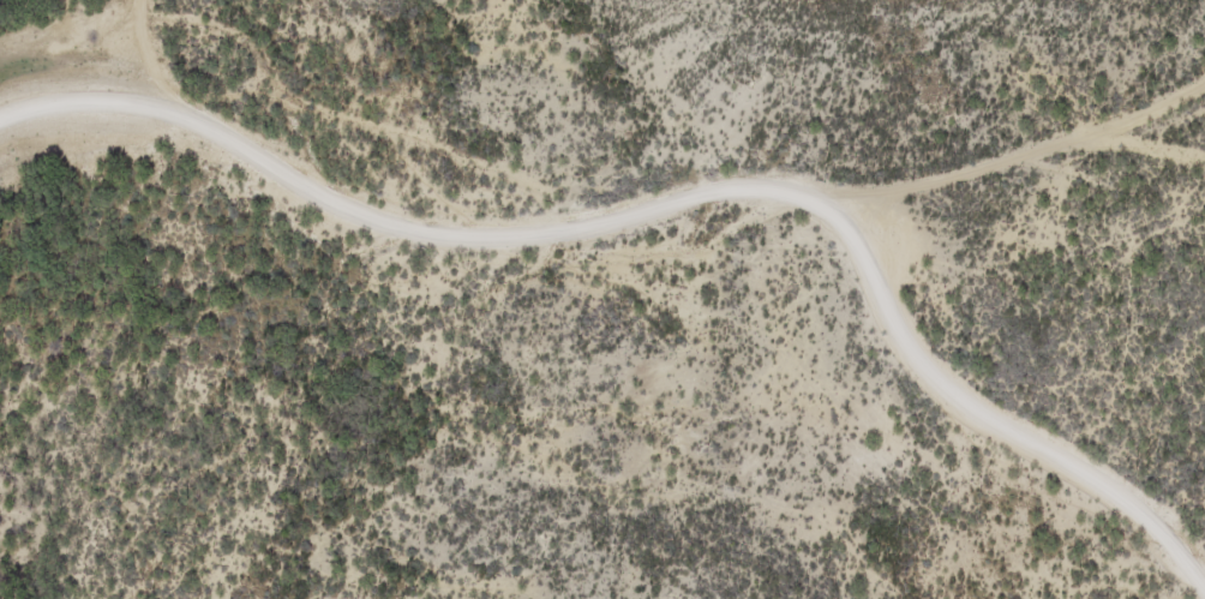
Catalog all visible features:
road: (126, 43)
road: (594, 229)
road: (989, 417)

